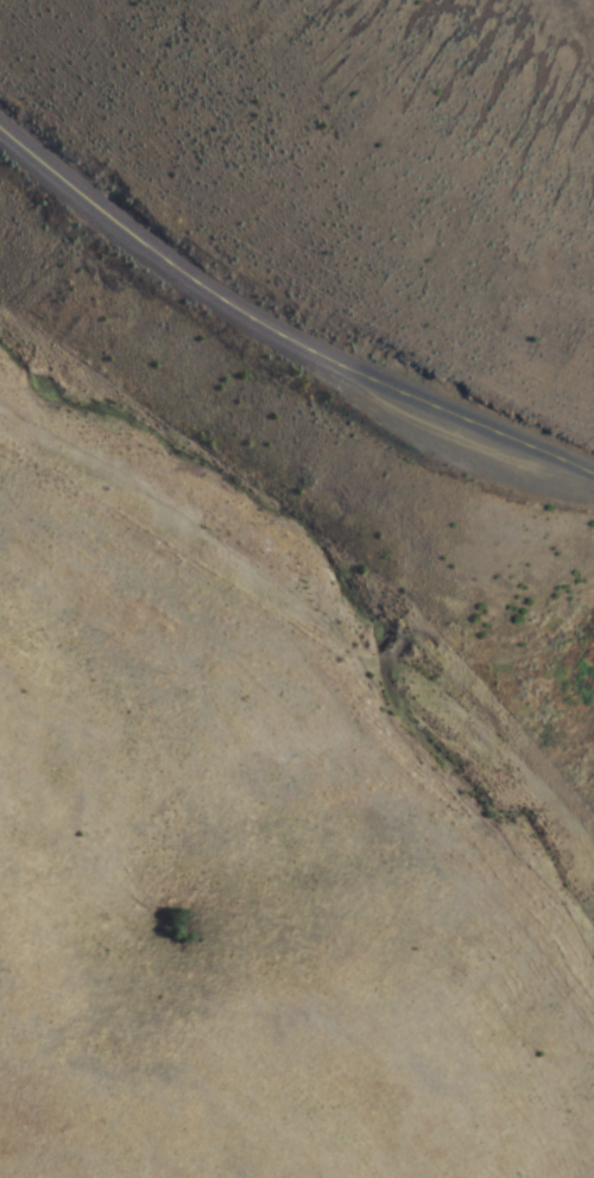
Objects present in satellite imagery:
road: (290, 310)

